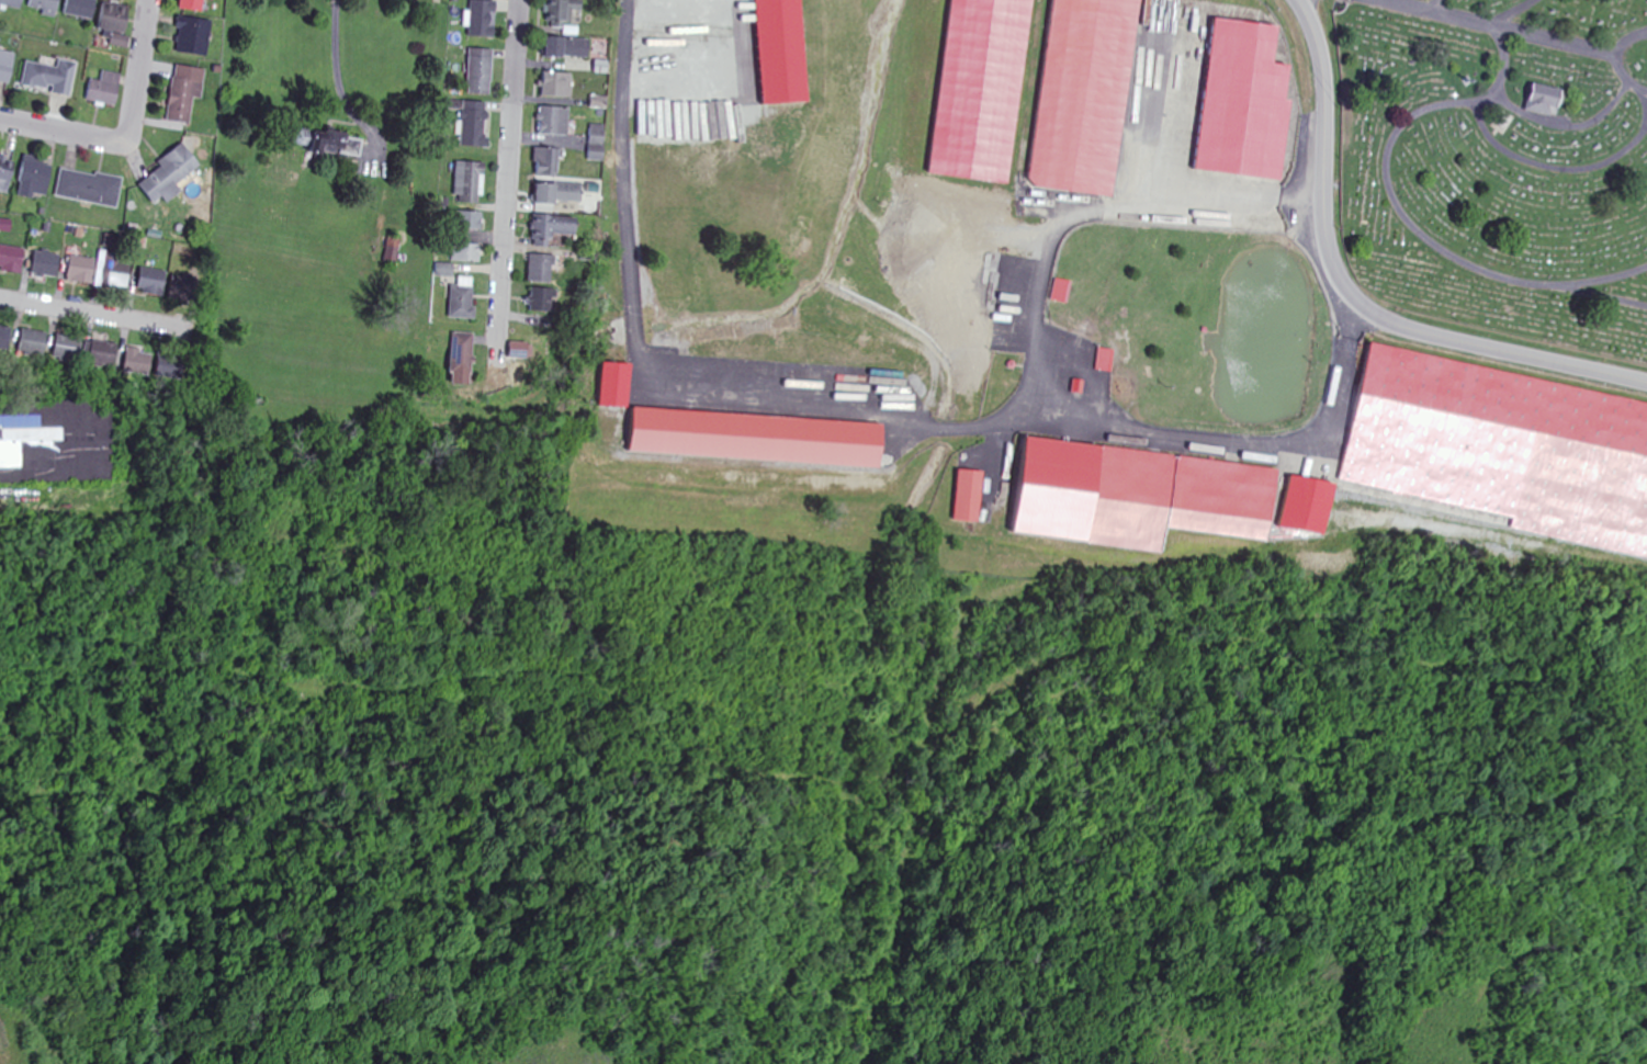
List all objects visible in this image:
road: (1431, 5)
road: (1513, 13)
road: (1490, 26)
road: (1643, 34)
road: (1624, 43)
road: (337, 70)
road: (1624, 75)
building: (985, 89)
building: (1088, 94)
road: (1498, 99)
road: (1322, 110)
road: (1646, 110)
road: (1565, 125)
road: (126, 132)
park: (1499, 165)
road: (1552, 167)
road: (507, 190)
road: (1093, 213)
road: (1403, 214)
road: (1605, 294)
road: (93, 315)
road: (1459, 341)
building: (58, 440)
building: (1501, 449)
building: (1172, 498)

